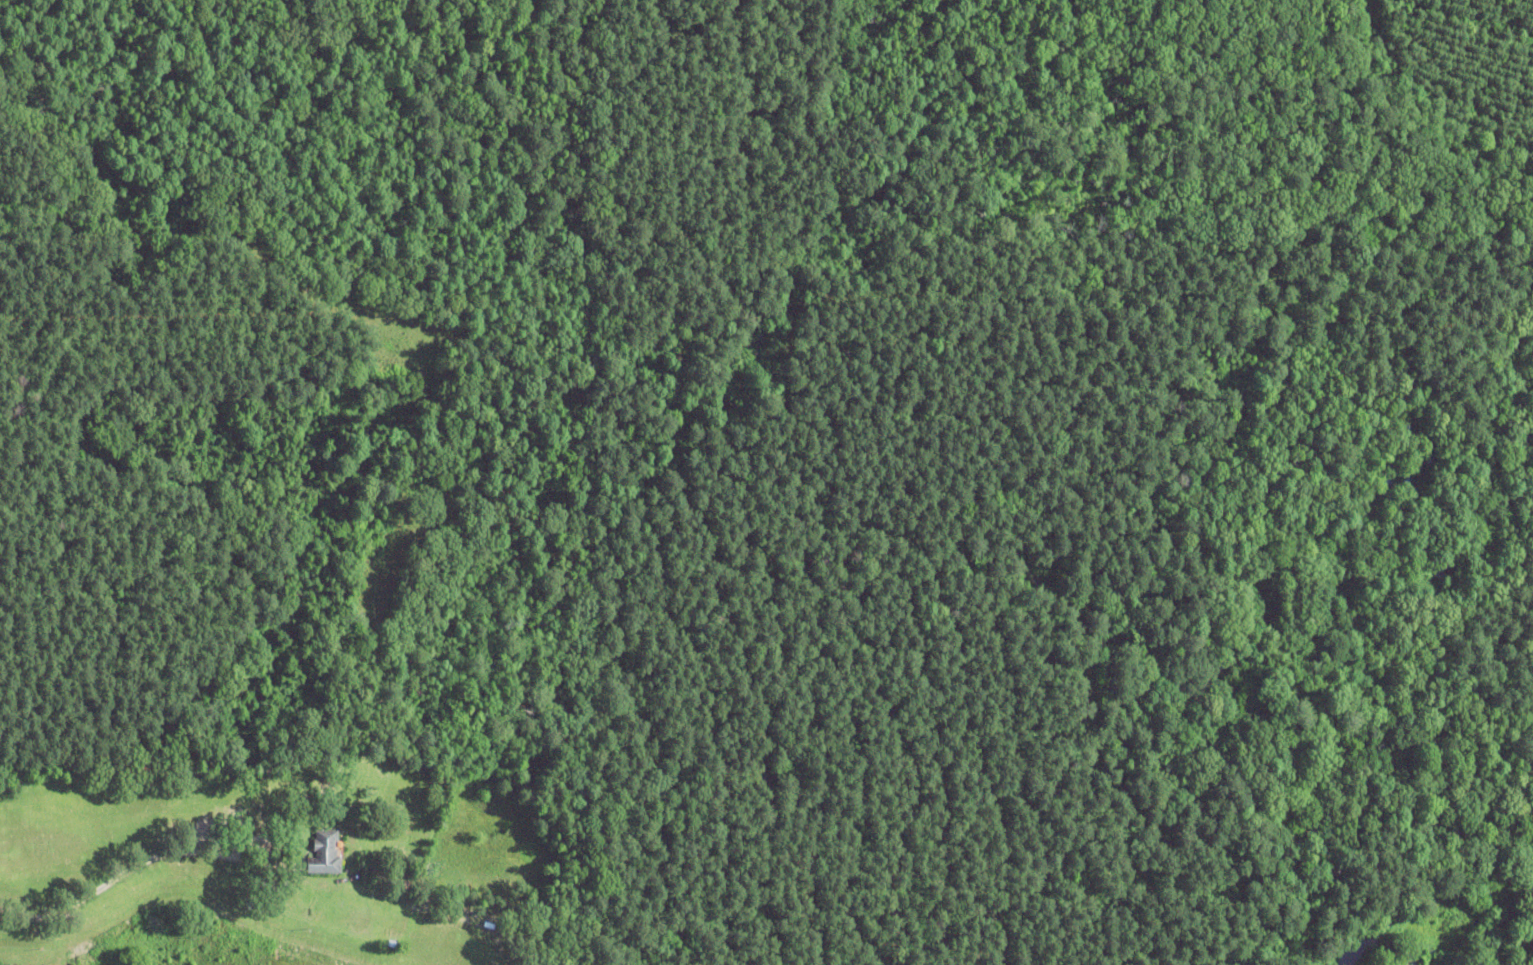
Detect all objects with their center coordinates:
building: (326, 852)

